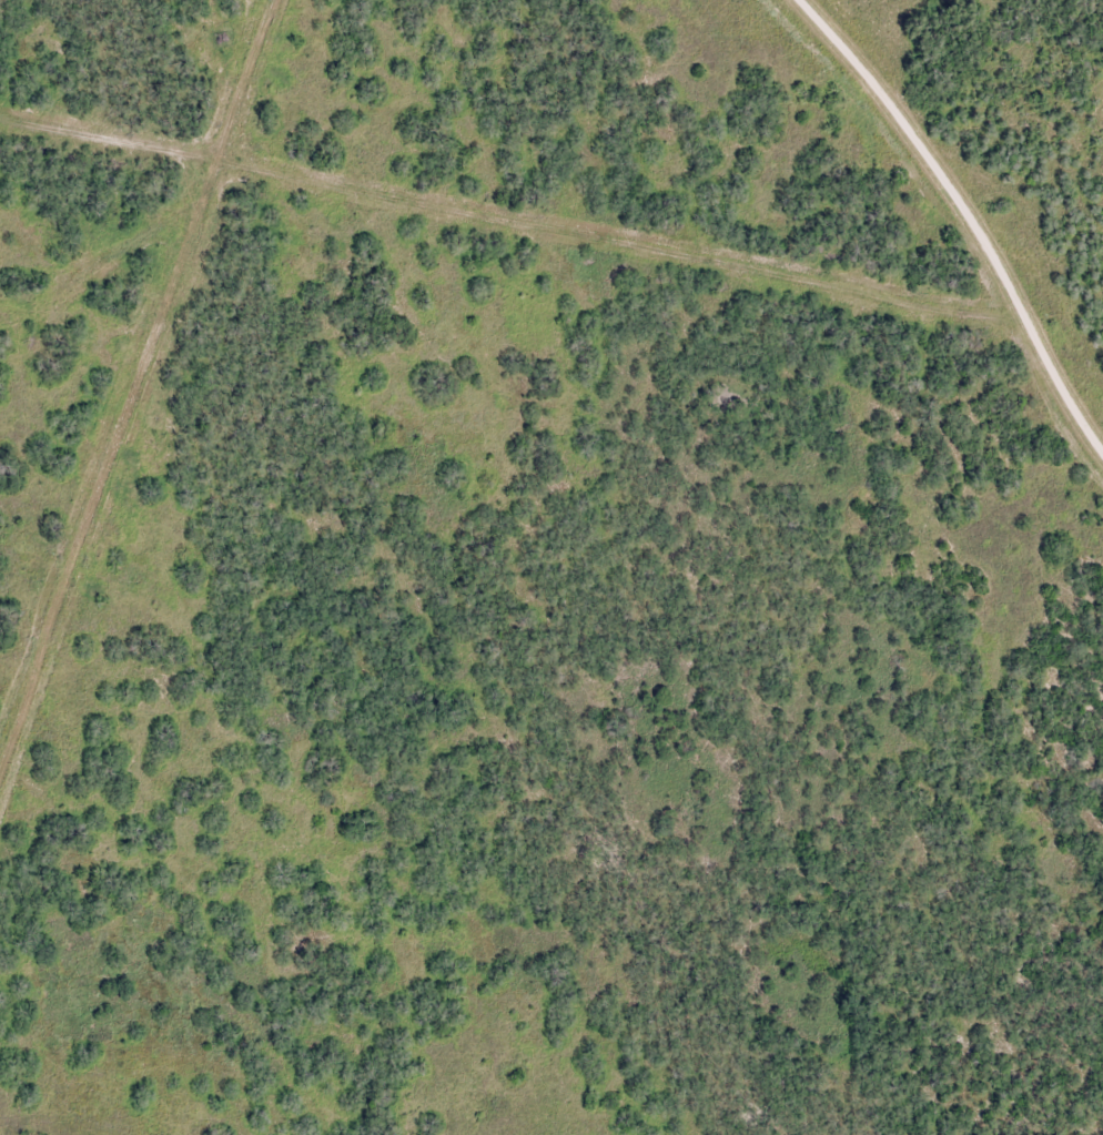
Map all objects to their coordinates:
road: (925, 236)

